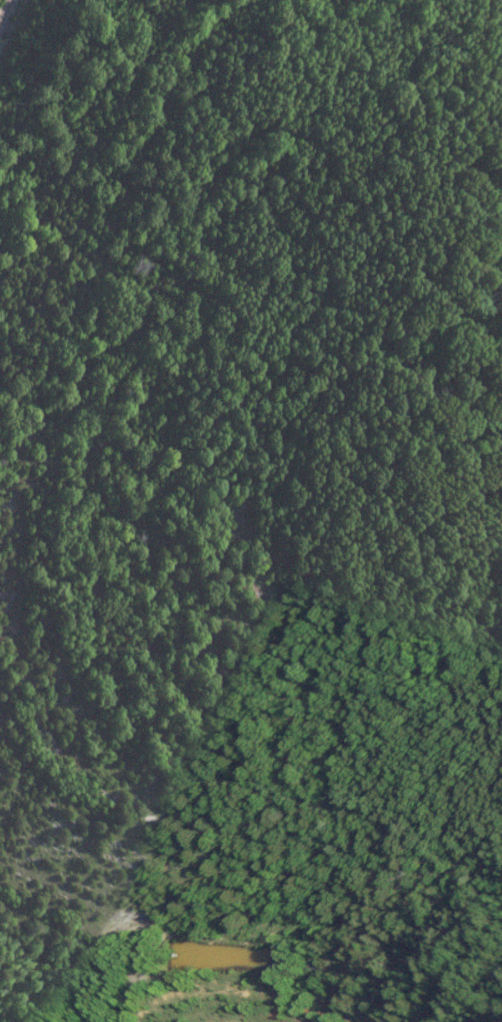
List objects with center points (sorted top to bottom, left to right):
railway: (4, 8)
airport: (266, 967)

